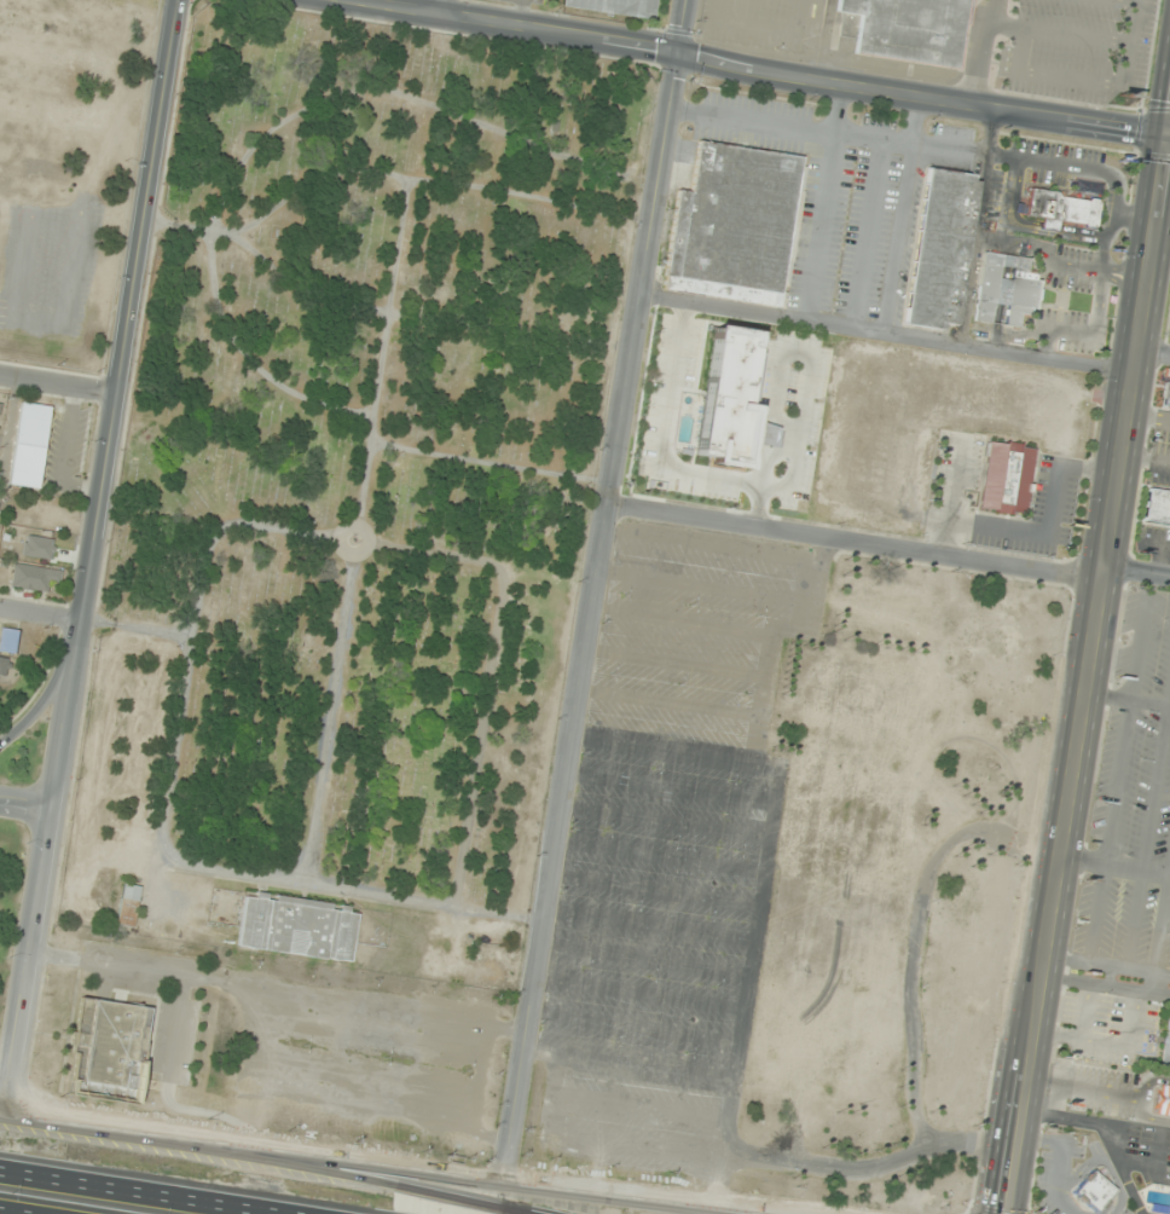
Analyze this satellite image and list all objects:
road: (442, 7)
building: (615, 8)
road: (519, 13)
building: (910, 29)
road: (981, 48)
traffic signals: (677, 51)
road: (757, 64)
road: (1019, 158)
building: (1088, 187)
road: (150, 197)
road: (826, 200)
road: (1015, 200)
building: (1059, 209)
road: (903, 212)
road: (977, 222)
building: (732, 225)
road: (1048, 225)
road: (1082, 230)
road: (867, 233)
building: (939, 248)
road: (1008, 249)
road: (1006, 261)
road: (1058, 265)
road: (1004, 272)
building: (1003, 288)
road: (1002, 291)
road: (997, 326)
road: (885, 333)
road: (1047, 342)
road: (1152, 353)
road: (60, 386)
building: (1165, 398)
building: (0, 406)
building: (703, 412)
building: (929, 422)
building: (30, 445)
park: (360, 461)
building: (1008, 478)
building: (1155, 508)
road: (852, 542)
building: (40, 543)
road: (722, 545)
road: (1136, 573)
building: (30, 577)
road: (703, 585)
road: (590, 588)
road: (41, 612)
road: (680, 620)
road: (1142, 638)
building: (8, 641)
road: (674, 661)
building: (4, 667)
road: (1088, 676)
road: (50, 688)
road: (1108, 696)
road: (668, 701)
road: (1151, 703)
road: (662, 745)
road: (60, 752)
road: (1120, 781)
road: (1157, 786)
road: (670, 787)
road: (25, 803)
road: (665, 821)
road: (768, 845)
parking lot: (671, 849)
road: (660, 856)
road: (1084, 859)
road: (1139, 866)
building: (841, 873)
road: (655, 890)
building: (128, 906)
road: (1100, 913)
road: (1135, 918)
road: (650, 923)
building: (299, 926)
road: (1163, 926)
road: (644, 958)
road: (1101, 964)
road: (1163, 973)
road: (1111, 975)
road: (1097, 982)
road: (1154, 982)
road: (639, 992)
road: (1162, 992)
road: (1084, 1008)
road: (635, 1027)
road: (1058, 1033)
road: (1129, 1041)
building: (1165, 1047)
building: (111, 1048)
road: (630, 1062)
road: (1081, 1086)
road: (1134, 1097)
building: (1159, 1099)
road: (639, 1104)
road: (1105, 1133)
road: (597, 1140)
road: (1157, 1161)
road: (394, 1162)
road: (268, 1167)
building: (1093, 1191)
road: (139, 1192)
road: (15, 1212)

